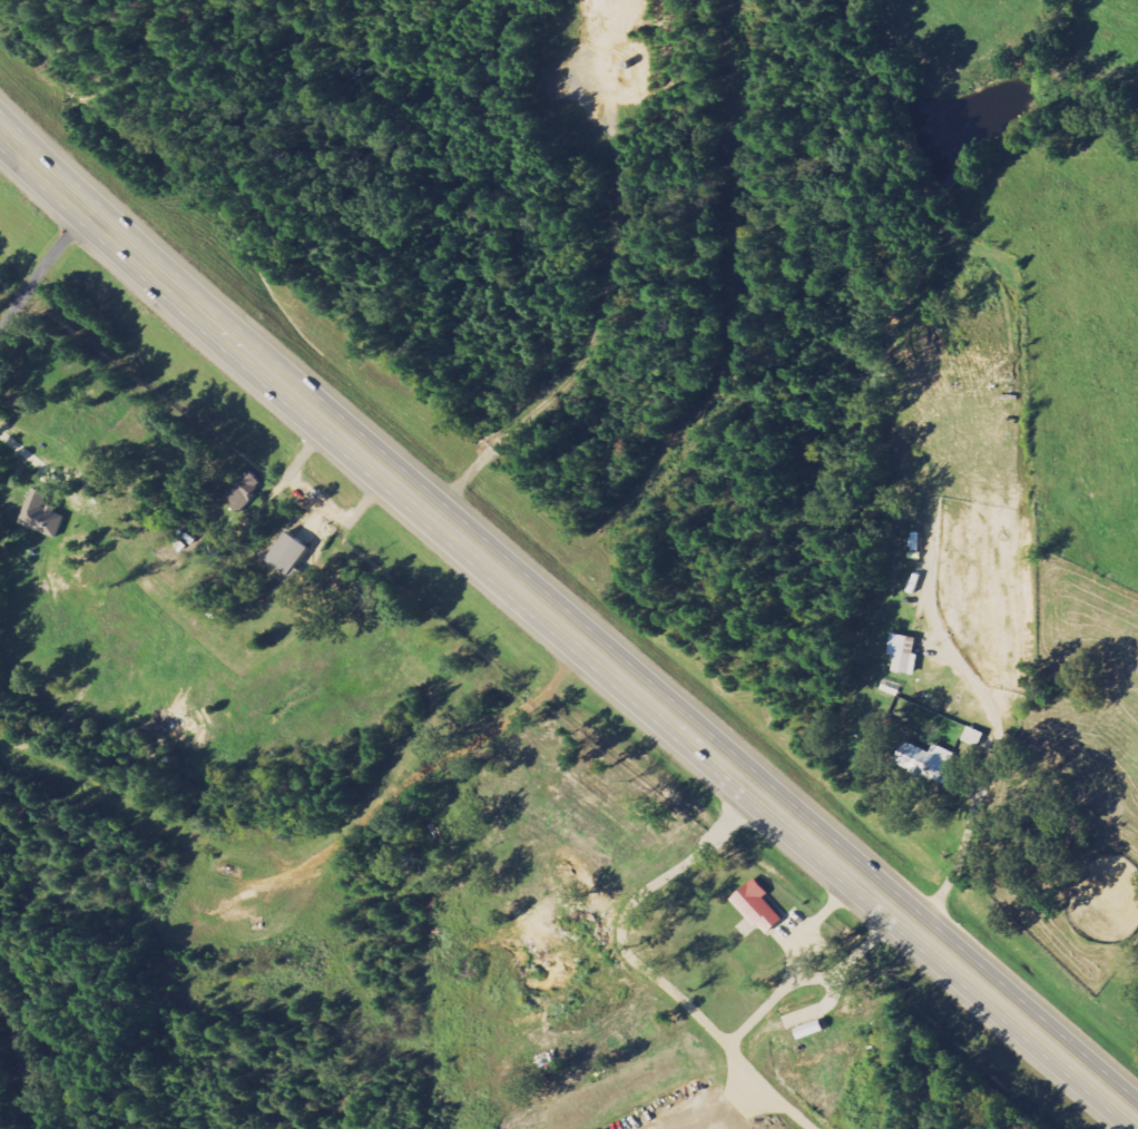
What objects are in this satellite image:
road: (42, 268)
building: (252, 488)
building: (47, 514)
building: (295, 553)
road: (566, 626)
road: (511, 719)
building: (932, 763)
building: (763, 906)

